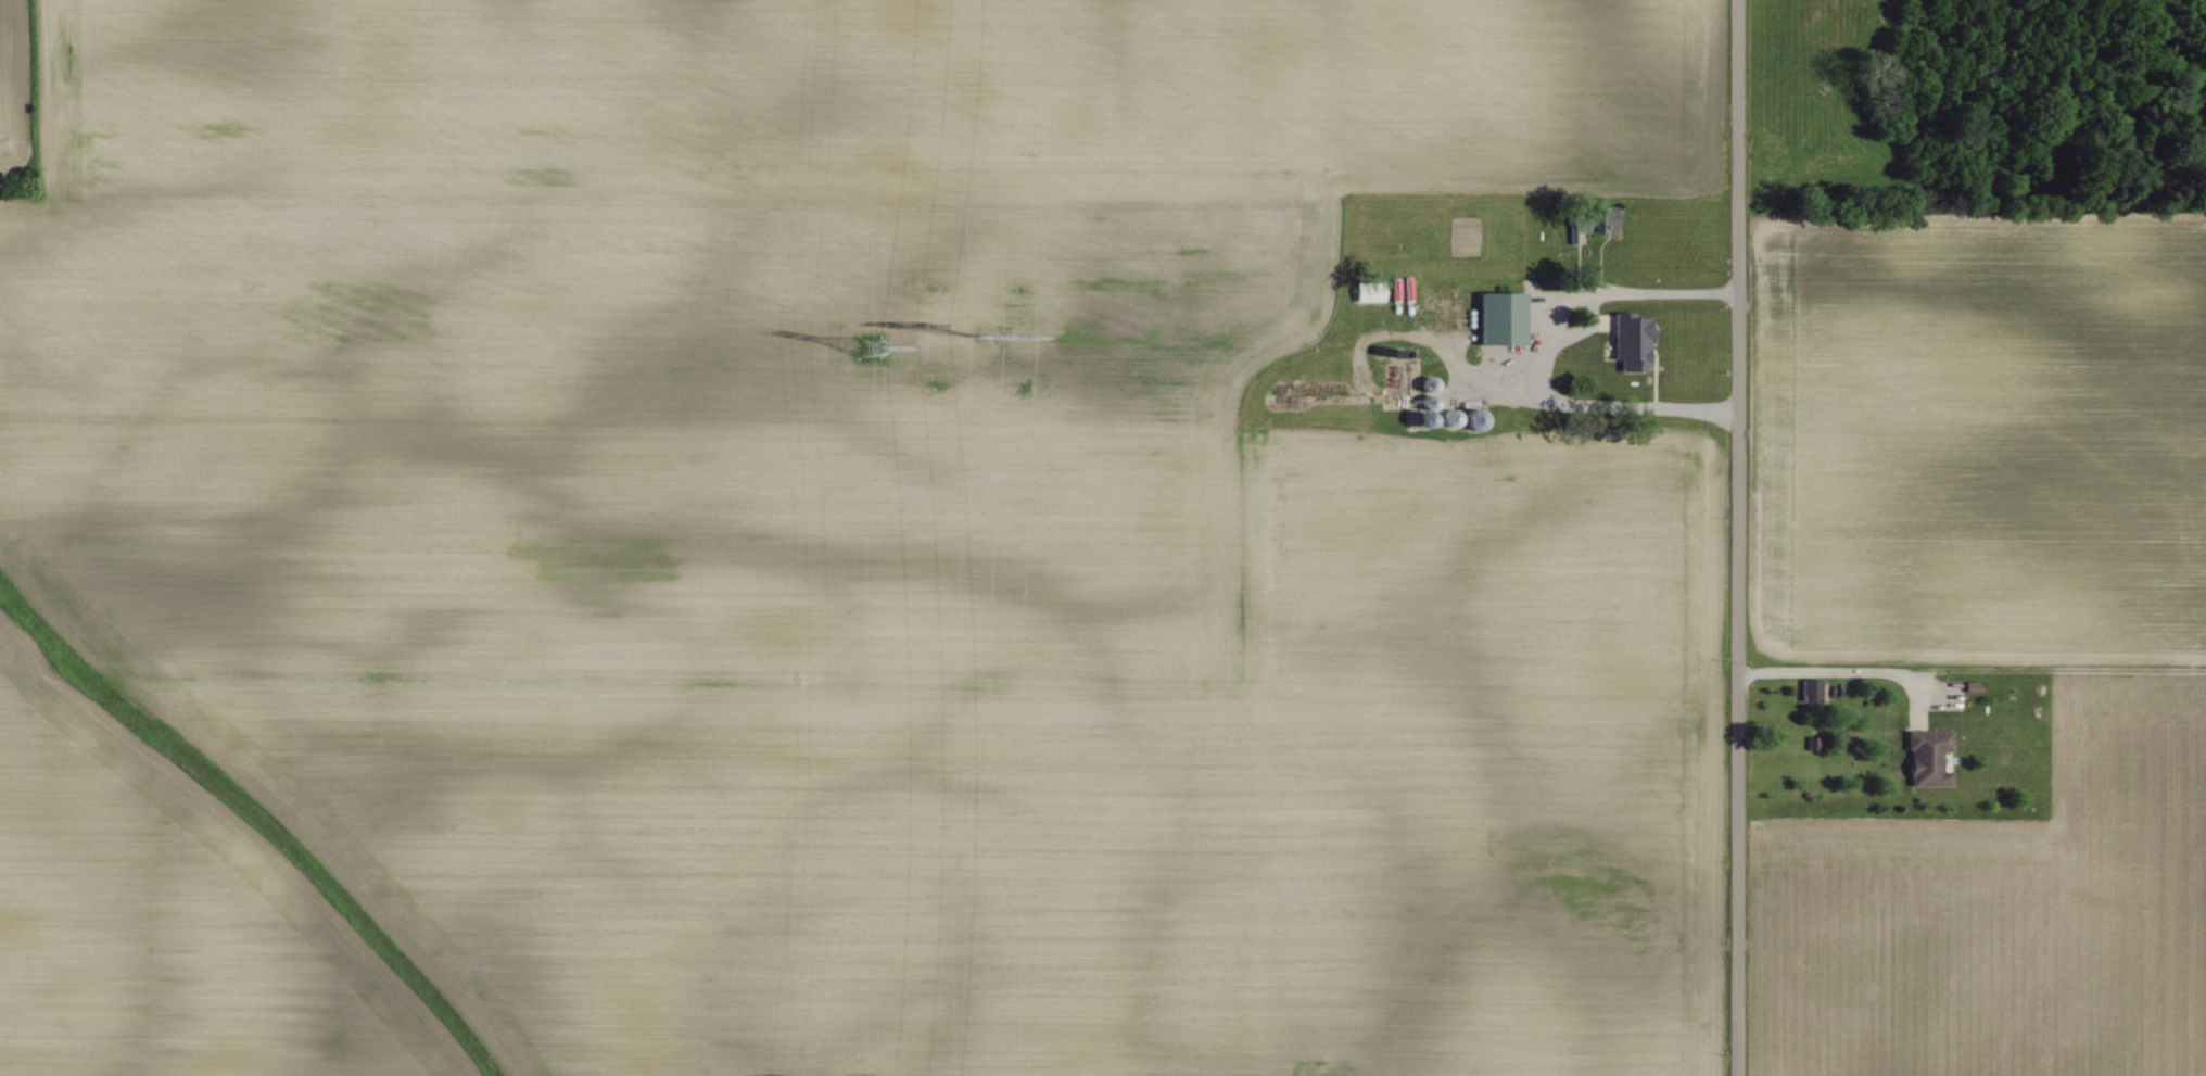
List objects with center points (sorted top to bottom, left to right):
building: (1595, 221)
building: (1366, 292)
building: (1498, 318)
power tower: (976, 330)
building: (1628, 342)
power tower: (870, 346)
road: (1537, 355)
road: (1737, 537)
road: (1837, 669)
building: (1926, 758)

